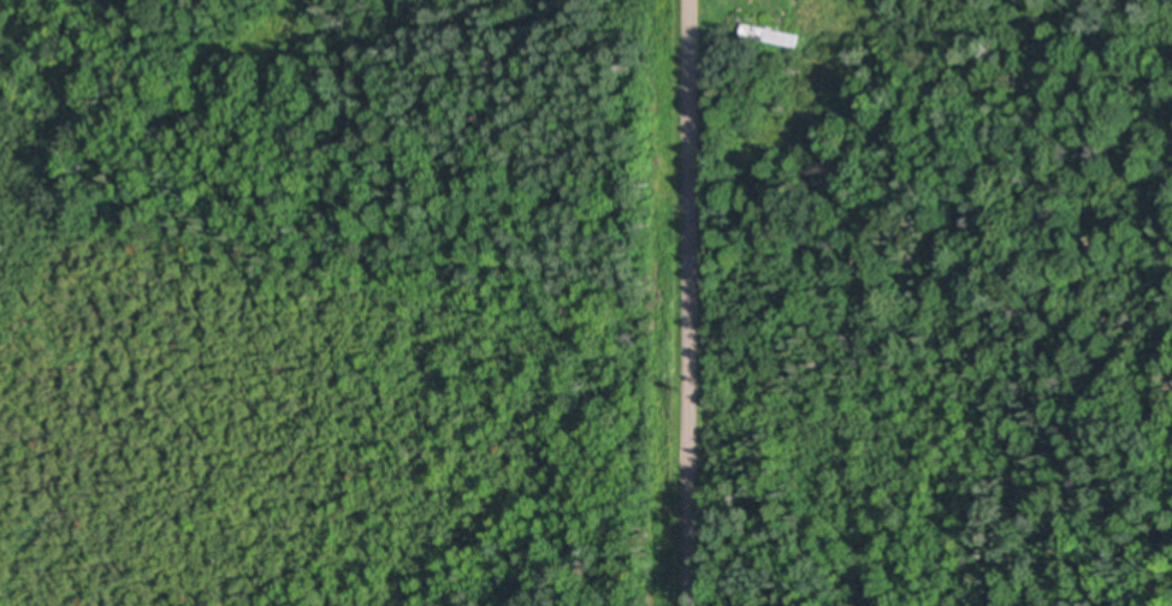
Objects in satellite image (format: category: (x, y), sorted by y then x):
road: (679, 303)

